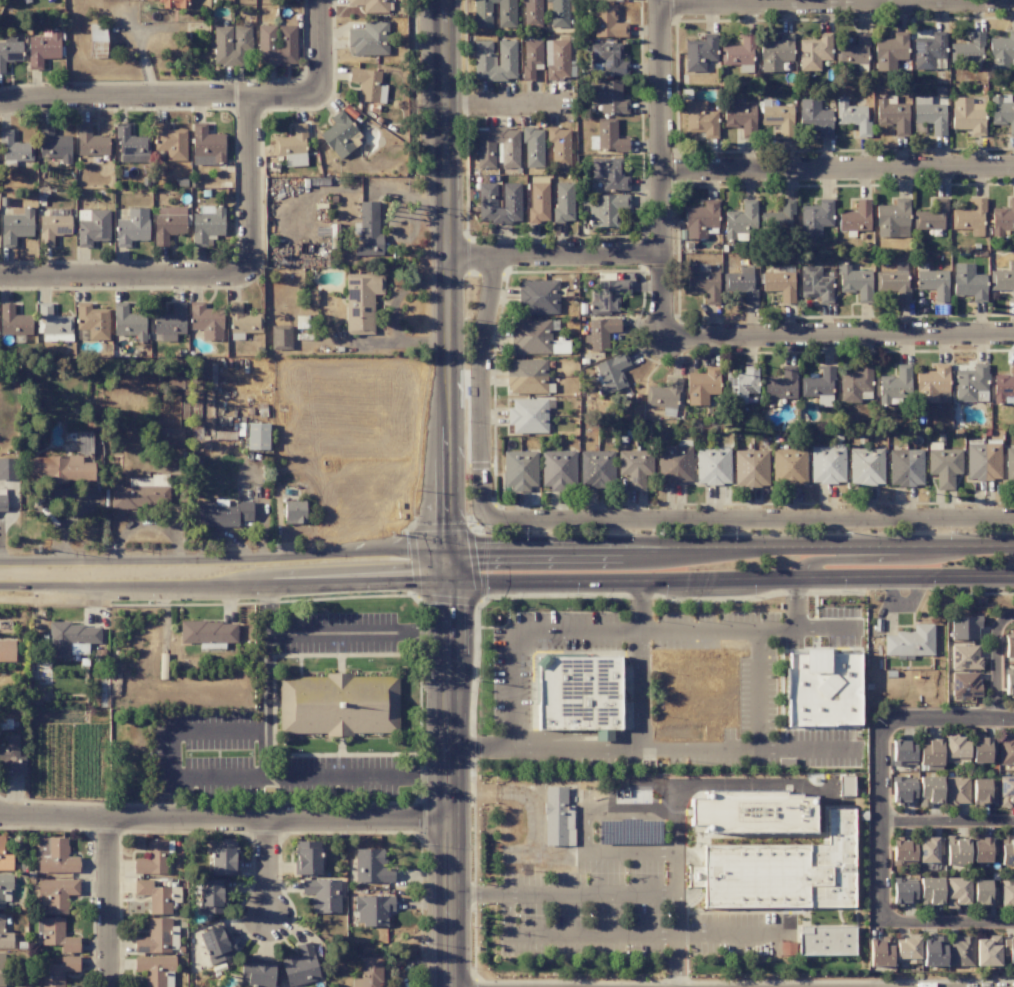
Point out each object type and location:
building: (173, 3)
building: (370, 5)
building: (558, 13)
building: (531, 14)
building: (505, 15)
building: (606, 22)
building: (368, 39)
building: (97, 40)
building: (277, 43)
building: (230, 44)
road: (323, 47)
building: (43, 48)
building: (9, 50)
building: (928, 50)
building: (967, 50)
building: (853, 51)
building: (775, 52)
building: (813, 52)
building: (1001, 52)
building: (699, 53)
building: (891, 53)
building: (738, 54)
building: (531, 57)
building: (607, 58)
building: (558, 59)
building: (494, 60)
building: (368, 85)
building: (607, 97)
road: (161, 100)
road: (505, 104)
building: (1002, 112)
building: (929, 114)
building: (891, 115)
building: (852, 116)
building: (967, 116)
building: (739, 117)
building: (777, 117)
building: (814, 118)
building: (700, 119)
building: (338, 135)
building: (607, 137)
building: (90, 142)
building: (169, 142)
building: (53, 145)
building: (131, 145)
building: (206, 146)
building: (559, 146)
building: (291, 147)
building: (532, 147)
building: (13, 148)
building: (485, 155)
road: (839, 167)
road: (664, 168)
building: (609, 174)
road: (251, 189)
building: (510, 195)
building: (538, 199)
building: (563, 202)
building: (607, 210)
building: (930, 216)
building: (779, 217)
building: (891, 217)
building: (970, 217)
building: (815, 218)
building: (855, 218)
building: (700, 219)
building: (1003, 219)
building: (740, 221)
building: (168, 223)
building: (207, 225)
building: (16, 226)
building: (92, 227)
building: (132, 227)
building: (52, 228)
building: (368, 231)
road: (556, 255)
road: (126, 280)
building: (1003, 280)
building: (703, 282)
building: (780, 282)
building: (855, 282)
building: (894, 282)
building: (932, 282)
building: (968, 282)
building: (815, 284)
building: (741, 285)
road: (446, 290)
building: (608, 295)
building: (538, 297)
building: (361, 302)
road: (391, 314)
building: (243, 320)
building: (206, 321)
building: (13, 322)
building: (52, 322)
building: (91, 323)
building: (129, 323)
building: (169, 323)
building: (600, 333)
building: (280, 336)
road: (841, 336)
building: (533, 338)
building: (611, 373)
building: (526, 376)
building: (741, 384)
building: (855, 384)
building: (931, 384)
building: (971, 384)
building: (895, 385)
building: (702, 386)
building: (780, 386)
building: (819, 386)
road: (483, 388)
building: (1004, 388)
building: (663, 394)
building: (527, 415)
building: (171, 436)
building: (257, 436)
building: (983, 461)
building: (675, 462)
building: (827, 464)
building: (944, 465)
building: (713, 466)
building: (866, 466)
building: (1009, 466)
building: (789, 467)
building: (635, 468)
building: (750, 468)
building: (905, 468)
building: (8, 469)
building: (59, 469)
building: (558, 469)
building: (596, 469)
building: (519, 470)
building: (141, 493)
building: (2, 499)
building: (294, 512)
building: (222, 514)
road: (750, 519)
road: (477, 524)
road: (438, 526)
road: (890, 547)
traffic signals: (444, 553)
road: (605, 553)
road: (858, 558)
road: (222, 559)
road: (413, 561)
road: (473, 564)
road: (936, 576)
road: (651, 580)
traffic signals: (444, 581)
road: (222, 585)
road: (980, 593)
road: (488, 597)
road: (448, 599)
road: (799, 602)
road: (639, 605)
road: (1006, 618)
road: (747, 628)
building: (965, 628)
road: (519, 631)
road: (328, 632)
building: (208, 634)
building: (71, 638)
building: (910, 641)
building: (1009, 644)
building: (7, 650)
building: (965, 657)
road: (444, 664)
road: (995, 669)
building: (1009, 681)
building: (965, 684)
road: (639, 688)
building: (822, 688)
building: (581, 692)
building: (334, 704)
road: (949, 715)
road: (541, 747)
road: (758, 747)
road: (809, 748)
building: (956, 749)
building: (980, 750)
building: (1005, 750)
road: (173, 753)
building: (903, 753)
building: (929, 753)
building: (11, 756)
road: (284, 773)
building: (845, 785)
building: (956, 790)
building: (903, 791)
building: (929, 791)
building: (1005, 791)
road: (512, 792)
building: (983, 792)
building: (752, 811)
road: (946, 817)
road: (877, 820)
road: (221, 823)
building: (559, 823)
road: (583, 829)
building: (930, 849)
road: (674, 850)
building: (983, 850)
building: (1006, 850)
building: (903, 851)
building: (956, 851)
building: (55, 856)
building: (4, 858)
building: (152, 858)
building: (222, 858)
building: (306, 858)
building: (371, 866)
road: (444, 867)
building: (781, 870)
road: (269, 874)
building: (5, 889)
building: (903, 891)
building: (930, 892)
building: (957, 892)
building: (56, 893)
building: (322, 894)
building: (983, 894)
building: (210, 896)
building: (1006, 896)
road: (112, 903)
road: (675, 905)
building: (372, 910)
road: (949, 922)
road: (703, 934)
building: (5, 935)
building: (57, 935)
building: (156, 937)
building: (215, 944)
building: (824, 945)
building: (787, 948)
building: (907, 950)
building: (1008, 950)
building: (960, 951)
building: (987, 951)
building: (880, 952)
building: (934, 952)
building: (300, 966)
building: (1, 969)
building: (155, 970)
building: (58, 971)
building: (255, 973)
building: (368, 973)
road: (474, 982)

